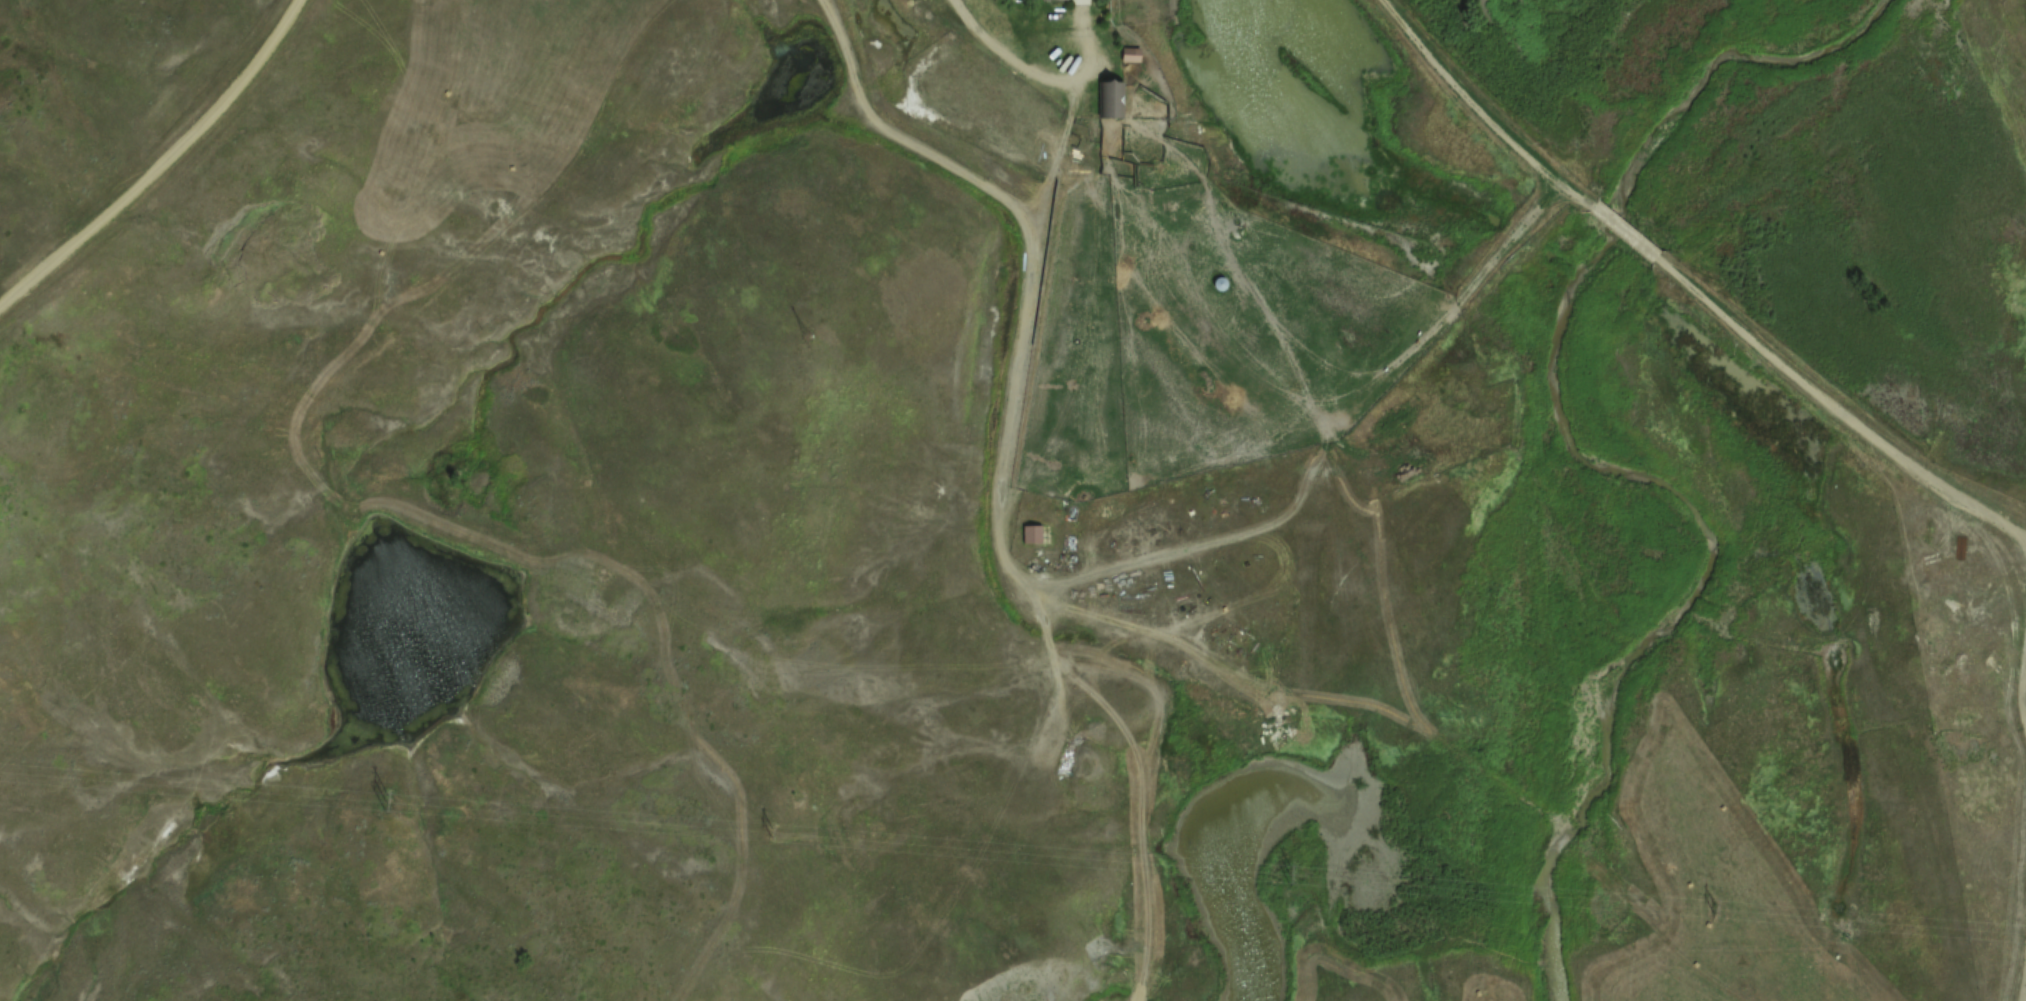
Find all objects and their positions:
building: (1068, 1)
road: (1030, 70)
road: (1472, 112)
road: (162, 165)
road: (1623, 243)
river: (1550, 395)
road: (1836, 417)
building: (1030, 536)
power tower: (383, 804)
power tower: (773, 834)
power tower: (1288, 875)
power tower: (1712, 909)

